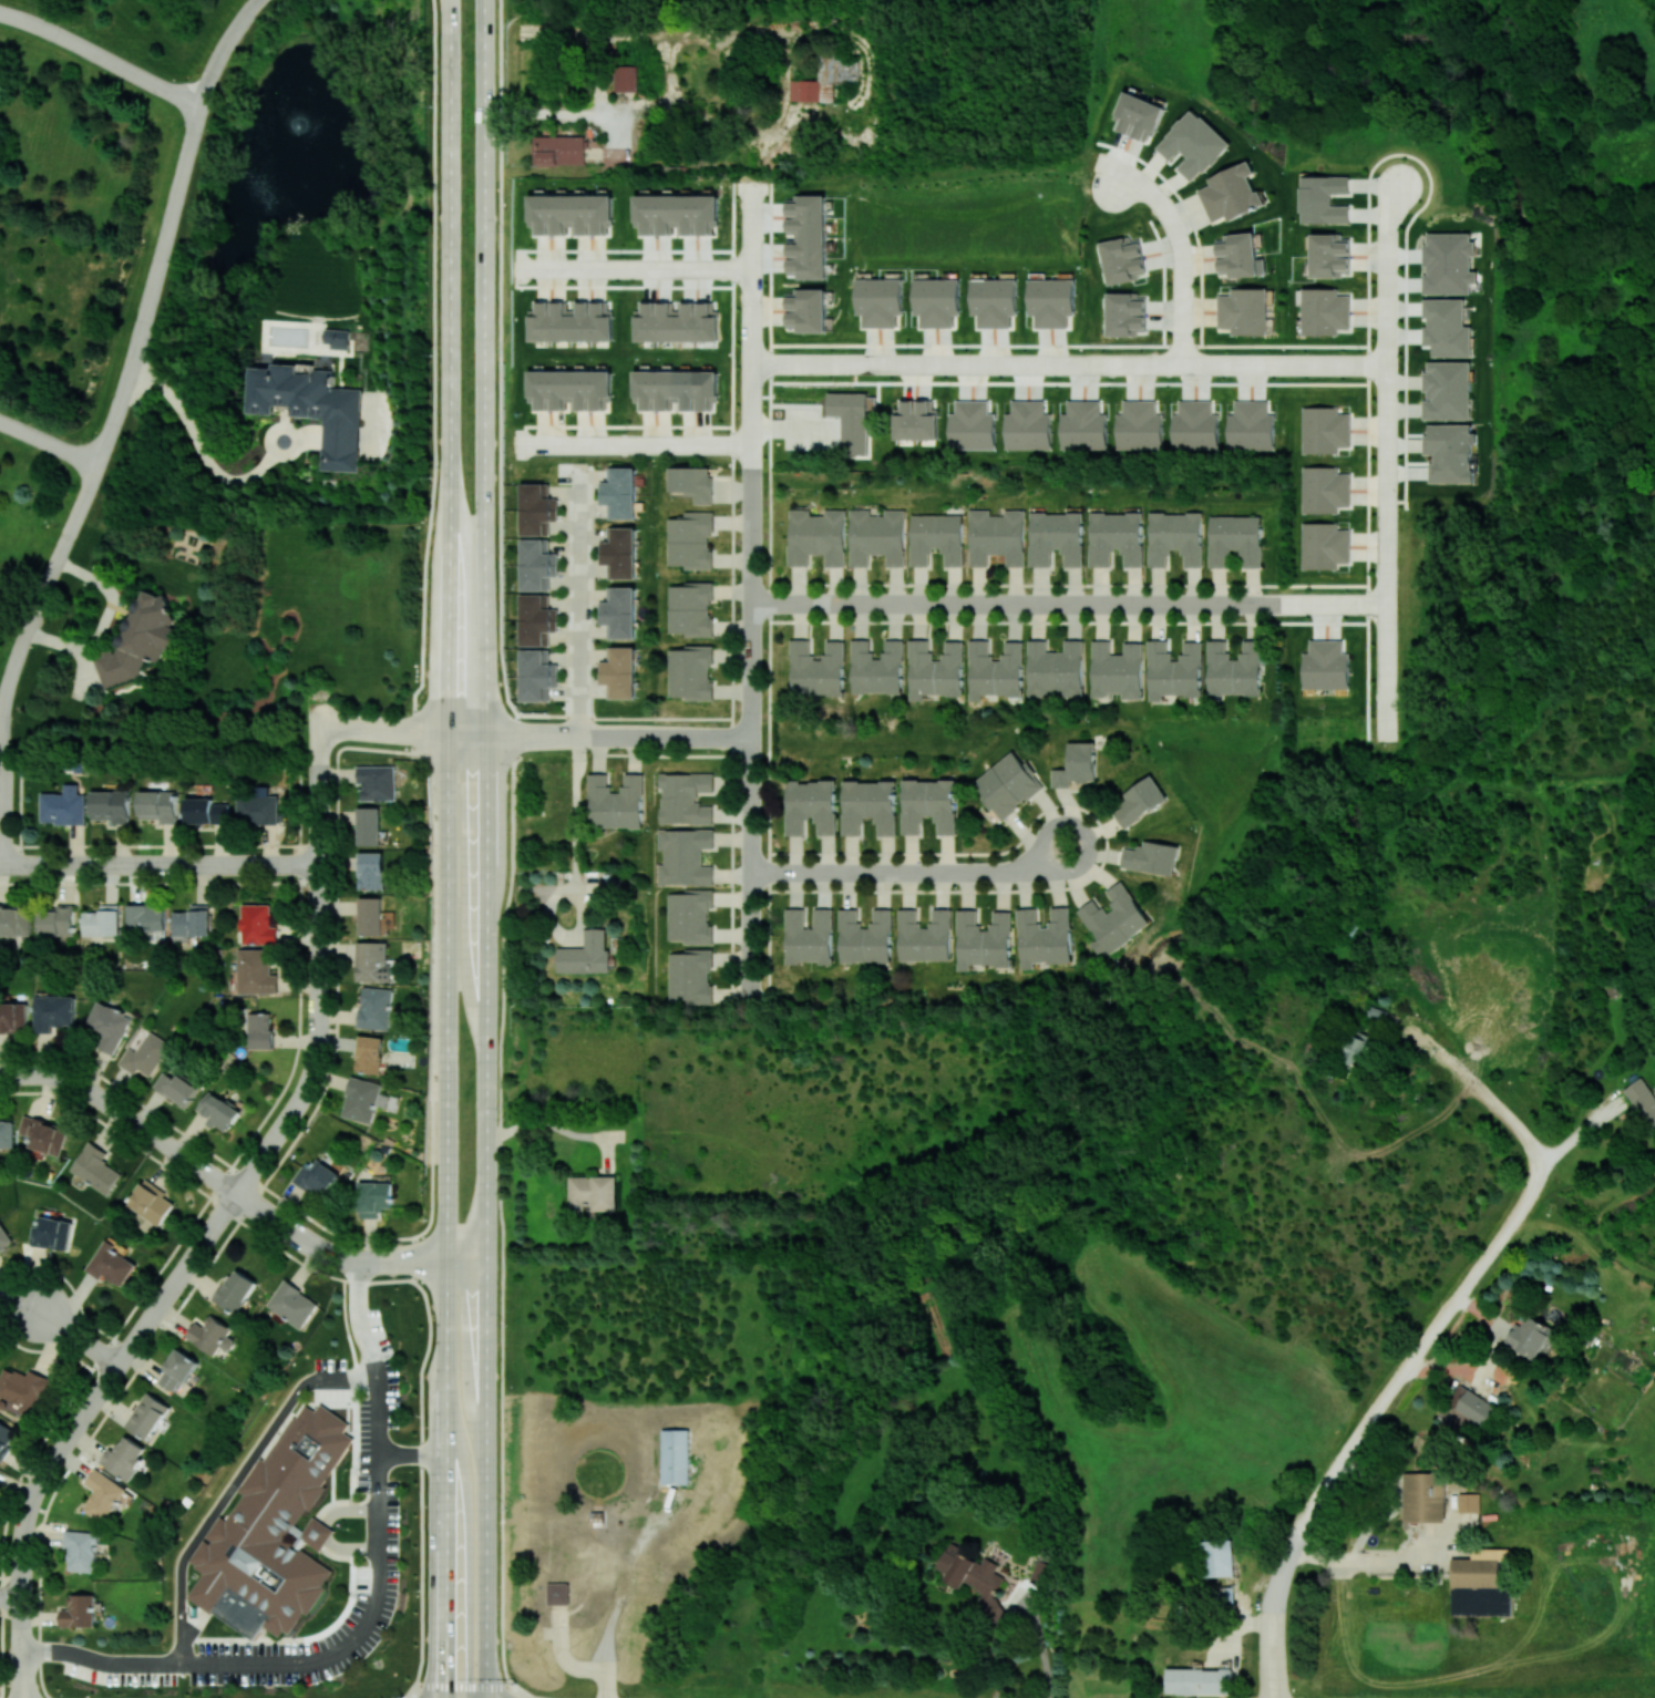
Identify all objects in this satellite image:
park: (1326, 42)
road: (220, 49)
road: (99, 56)
building: (625, 78)
building: (816, 83)
road: (712, 88)
road: (866, 96)
river: (1324, 101)
park: (1592, 114)
building: (1139, 116)
road: (996, 126)
fountain: (310, 131)
road: (753, 137)
building: (1193, 144)
building: (558, 150)
river: (1505, 161)
road: (753, 186)
road: (1140, 189)
building: (1230, 193)
building: (1323, 199)
building: (569, 213)
building: (676, 214)
road: (1191, 220)
building: (808, 236)
building: (1238, 255)
building: (1329, 256)
building: (1122, 259)
building: (1448, 263)
road: (633, 267)
road: (515, 268)
road: (1182, 279)
road: (1163, 280)
building: (878, 300)
building: (936, 300)
building: (994, 301)
building: (1051, 301)
building: (808, 309)
building: (1243, 310)
building: (1324, 311)
building: (1125, 313)
building: (570, 321)
building: (677, 322)
road: (752, 326)
building: (1446, 327)
building: (337, 338)
road: (1387, 338)
road: (1069, 344)
road: (916, 361)
road: (1096, 361)
road: (1248, 361)
road: (434, 367)
park: (1570, 385)
building: (569, 389)
building: (676, 389)
building: (1447, 390)
park: (1651, 393)
river: (1634, 395)
building: (312, 408)
building: (851, 420)
building: (915, 420)
road: (620, 425)
building: (970, 425)
building: (1027, 425)
building: (1083, 425)
building: (1139, 425)
building: (1194, 425)
building: (1251, 425)
building: (1324, 429)
road: (636, 441)
road: (48, 443)
road: (199, 446)
building: (1449, 452)
road: (752, 472)
building: (692, 482)
road: (86, 483)
building: (1324, 488)
building: (621, 492)
building: (537, 508)
building: (816, 536)
building: (876, 536)
building: (996, 536)
building: (1056, 537)
building: (1116, 537)
building: (1175, 537)
building: (936, 538)
building: (690, 539)
building: (1234, 539)
building: (1324, 545)
road: (1387, 548)
building: (623, 552)
building: (537, 564)
road: (770, 584)
road: (731, 586)
road: (752, 597)
road: (1069, 601)
road: (580, 606)
building: (690, 608)
road: (1387, 611)
building: (620, 613)
building: (537, 619)
building: (140, 639)
road: (1386, 662)
building: (1325, 665)
building: (876, 667)
building: (816, 668)
building: (1056, 668)
building: (1234, 668)
building: (935, 669)
building: (995, 669)
building: (1118, 669)
building: (1174, 670)
building: (621, 672)
building: (690, 672)
building: (537, 675)
park: (1446, 689)
road: (316, 707)
road: (752, 722)
road: (1386, 722)
road: (359, 727)
park: (880, 731)
road: (433, 732)
road: (476, 734)
road: (505, 735)
road: (555, 735)
road: (618, 735)
road: (701, 737)
road: (317, 743)
road: (752, 751)
building: (1076, 764)
building: (377, 782)
building: (1007, 784)
building: (685, 797)
building: (1140, 800)
building: (615, 801)
park: (1581, 803)
building: (63, 805)
building: (111, 805)
building: (158, 805)
building: (811, 805)
building: (868, 805)
building: (928, 805)
building: (257, 809)
building: (206, 811)
road: (576, 812)
building: (368, 825)
road: (752, 826)
road: (511, 843)
road: (446, 848)
road: (486, 848)
building: (683, 856)
building: (1152, 856)
road: (158, 864)
building: (371, 869)
road: (913, 872)
road: (318, 878)
building: (370, 915)
building: (689, 916)
road: (752, 916)
building: (145, 918)
building: (1113, 918)
building: (13, 919)
building: (56, 920)
building: (101, 920)
building: (191, 920)
building: (256, 924)
road: (556, 930)
building: (924, 935)
building: (809, 936)
building: (865, 936)
building: (1045, 937)
building: (984, 939)
building: (586, 954)
building: (376, 961)
road: (752, 961)
building: (255, 971)
building: (690, 975)
road: (751, 990)
building: (376, 1008)
building: (53, 1011)
building: (13, 1016)
building: (107, 1027)
building: (260, 1030)
building: (1358, 1048)
building: (370, 1053)
building: (146, 1054)
road: (1474, 1084)
building: (177, 1088)
building: (361, 1099)
road: (299, 1101)
building: (1643, 1101)
building: (218, 1111)
road: (125, 1114)
road: (545, 1123)
road: (1577, 1129)
building: (7, 1134)
building: (43, 1134)
road: (615, 1135)
road: (605, 1154)
building: (95, 1167)
building: (317, 1176)
building: (592, 1192)
building: (374, 1197)
building: (152, 1202)
road: (429, 1220)
road: (292, 1229)
building: (52, 1232)
road: (208, 1235)
building: (4, 1237)
road: (381, 1260)
road: (449, 1260)
building: (111, 1263)
building: (235, 1290)
road: (1461, 1291)
building: (291, 1304)
building: (212, 1335)
road: (80, 1336)
building: (1529, 1337)
building: (177, 1369)
building: (24, 1389)
building: (147, 1414)
building: (6, 1437)
road: (65, 1442)
road: (412, 1452)
building: (675, 1455)
building: (124, 1458)
road: (234, 1480)
building: (102, 1494)
building: (1423, 1496)
building: (1468, 1502)
building: (274, 1531)
road: (1293, 1542)
building: (81, 1550)
building: (1216, 1557)
road: (1367, 1560)
building: (974, 1578)
road: (621, 1586)
building: (557, 1593)
road: (11, 1596)
building: (79, 1610)
road: (366, 1614)
road: (1041, 1646)
road: (563, 1654)
road: (22, 1664)
traffic signals: (445, 1676)
building: (1199, 1680)
road: (605, 1684)
road: (479, 1685)
road: (1273, 1695)
road: (22, 1696)
road: (404, 1696)
road: (532, 1697)

